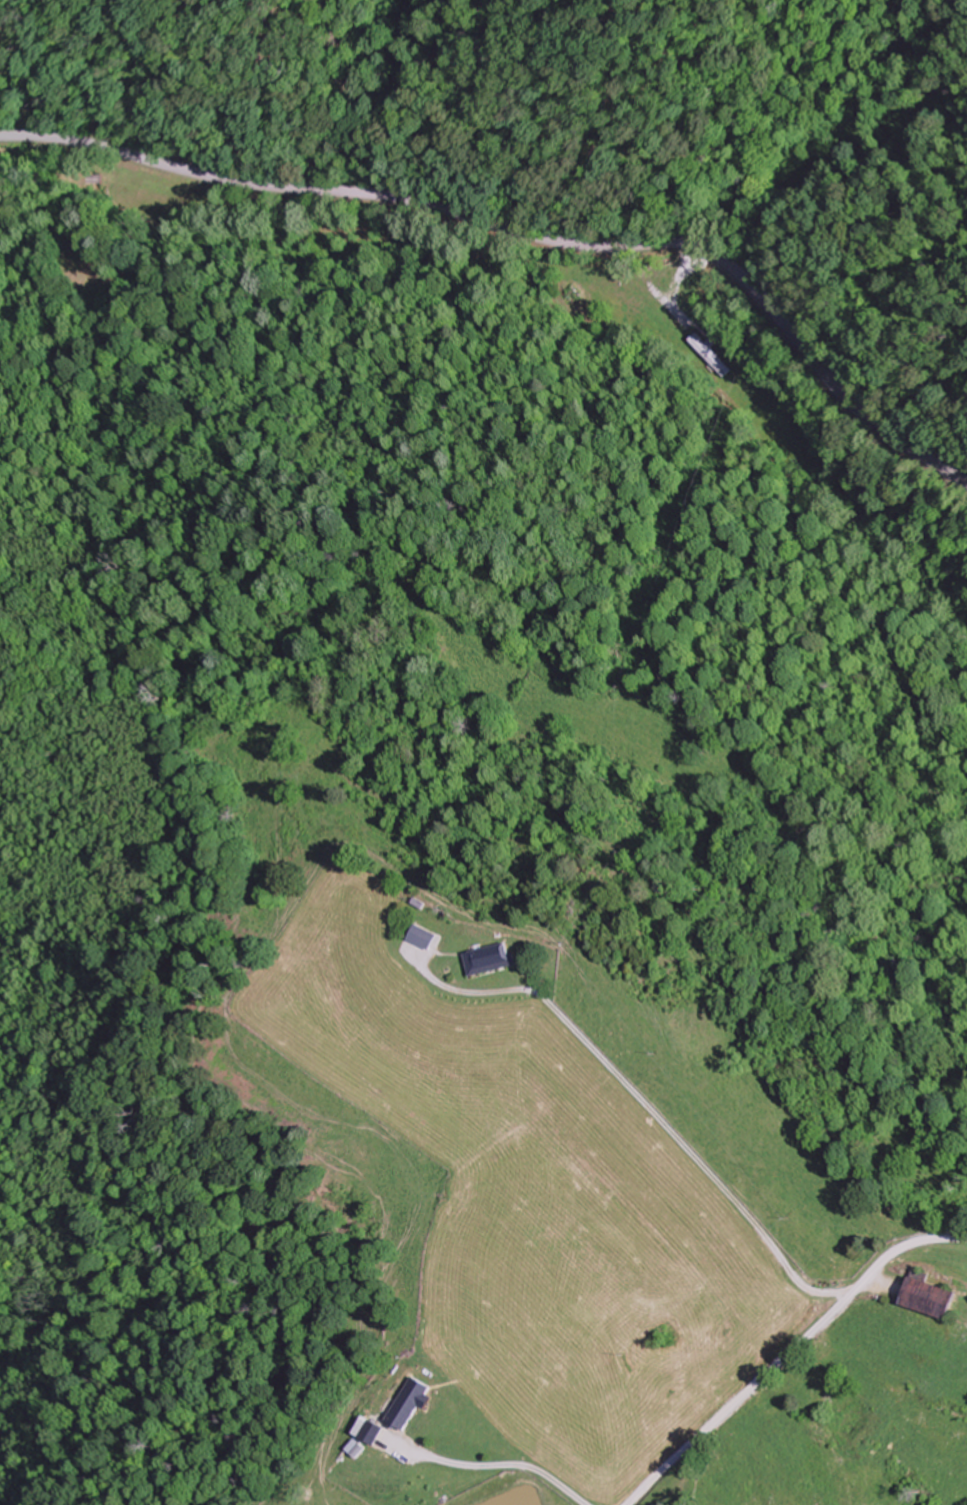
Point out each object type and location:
road: (523, 236)
building: (87, 270)
building: (426, 937)
building: (494, 959)
road: (924, 1236)
building: (935, 1297)
road: (756, 1384)
building: (413, 1402)
building: (370, 1436)
park: (690, 1501)

